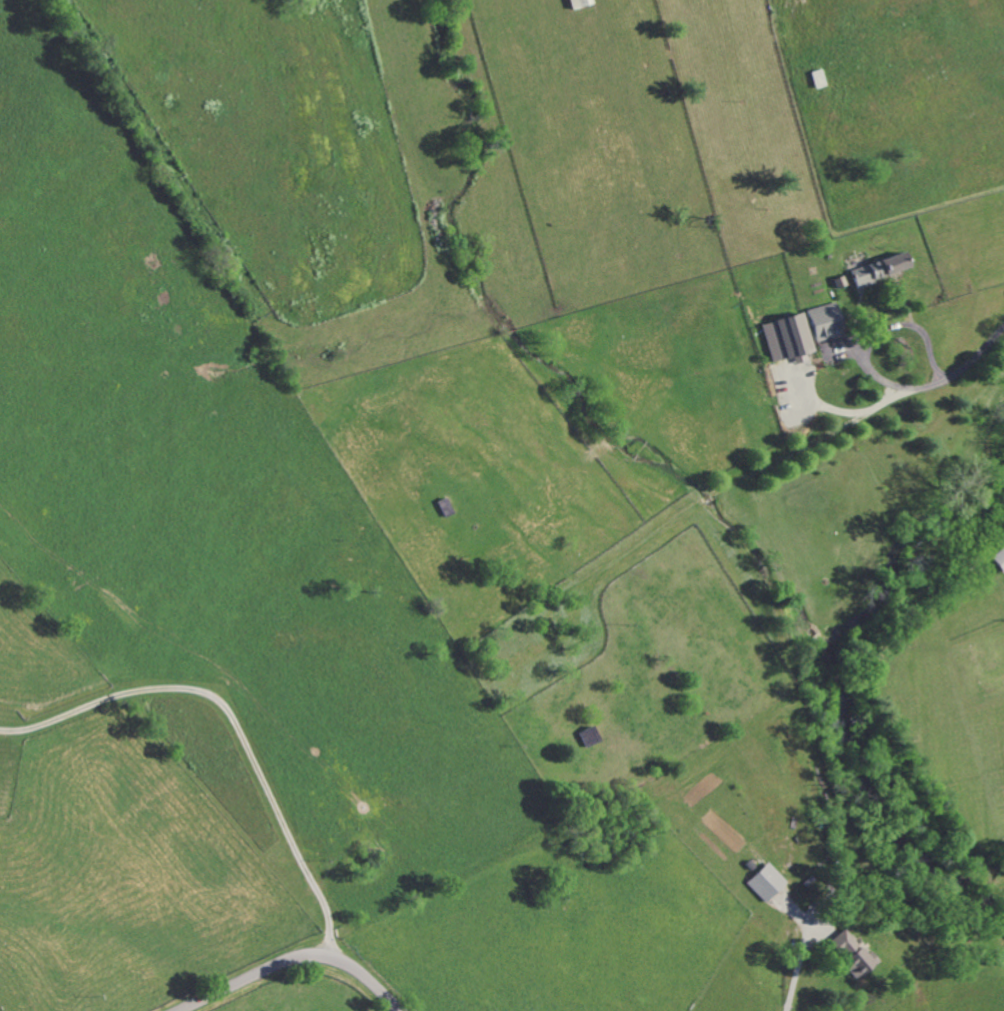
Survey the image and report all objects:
building: (879, 269)
building: (825, 322)
building: (787, 339)
road: (870, 341)
road: (977, 357)
road: (849, 413)
building: (999, 560)
road: (235, 723)
building: (765, 883)
building: (850, 954)
road: (292, 961)
road: (794, 979)

